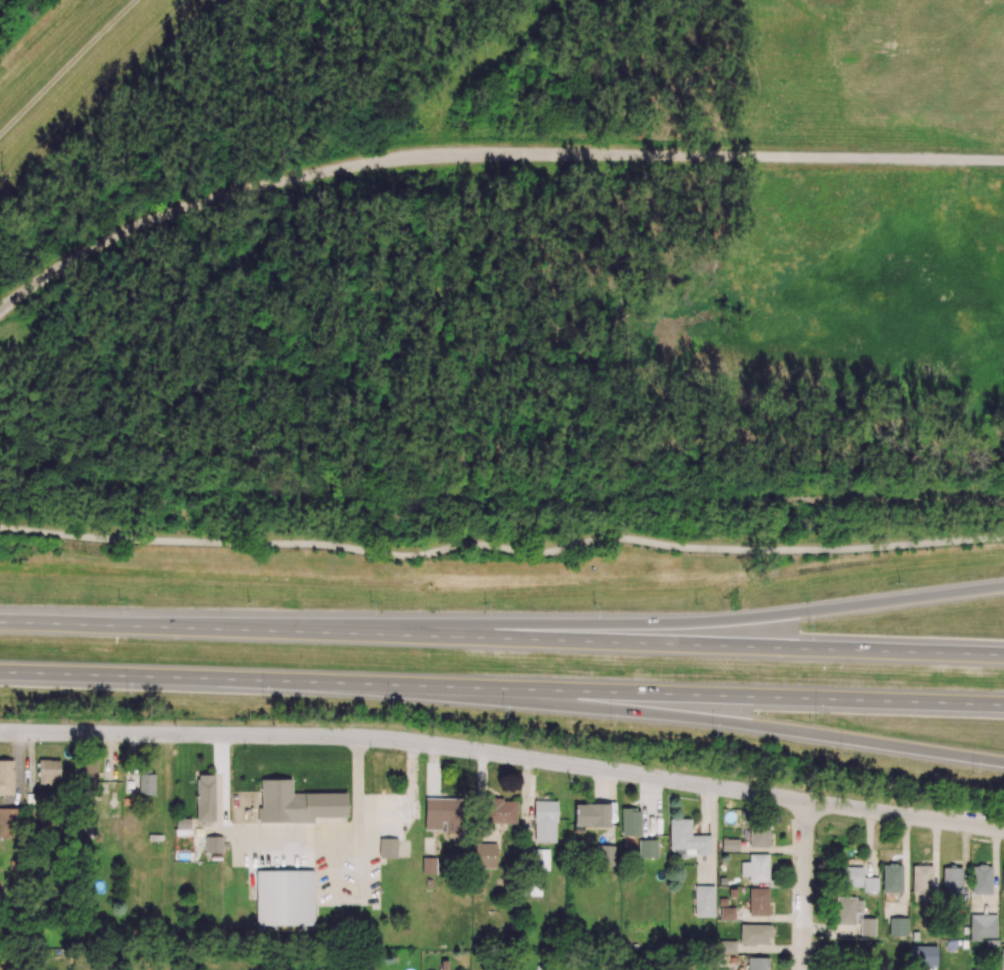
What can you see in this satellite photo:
road: (66, 66)
road: (484, 154)
road: (501, 549)
road: (705, 623)
road: (501, 638)
road: (501, 689)
road: (720, 723)
road: (504, 754)
building: (48, 771)
building: (89, 774)
building: (6, 777)
building: (146, 784)
building: (205, 798)
road: (410, 802)
building: (297, 804)
building: (8, 823)
building: (213, 844)
road: (293, 845)
road: (804, 885)

